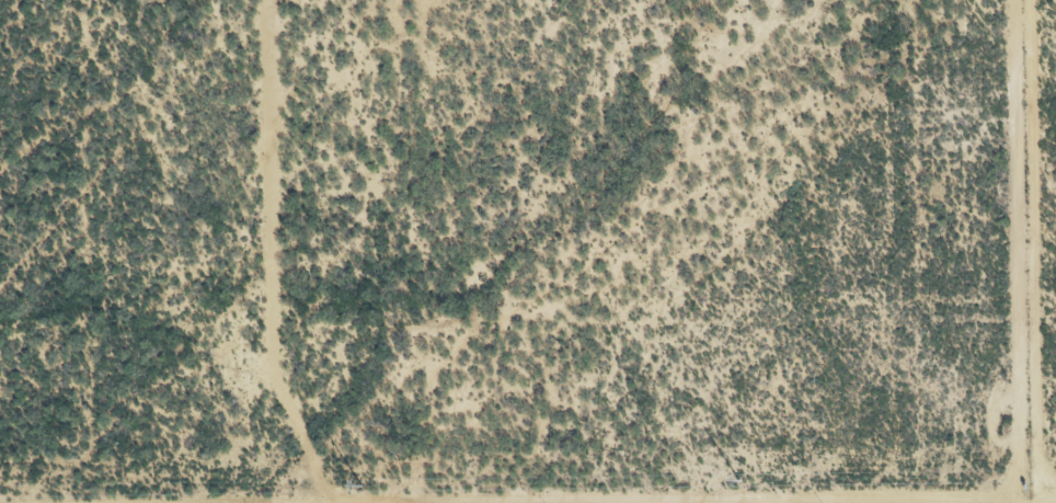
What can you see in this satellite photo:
power tower: (741, 480)
power tower: (363, 487)

